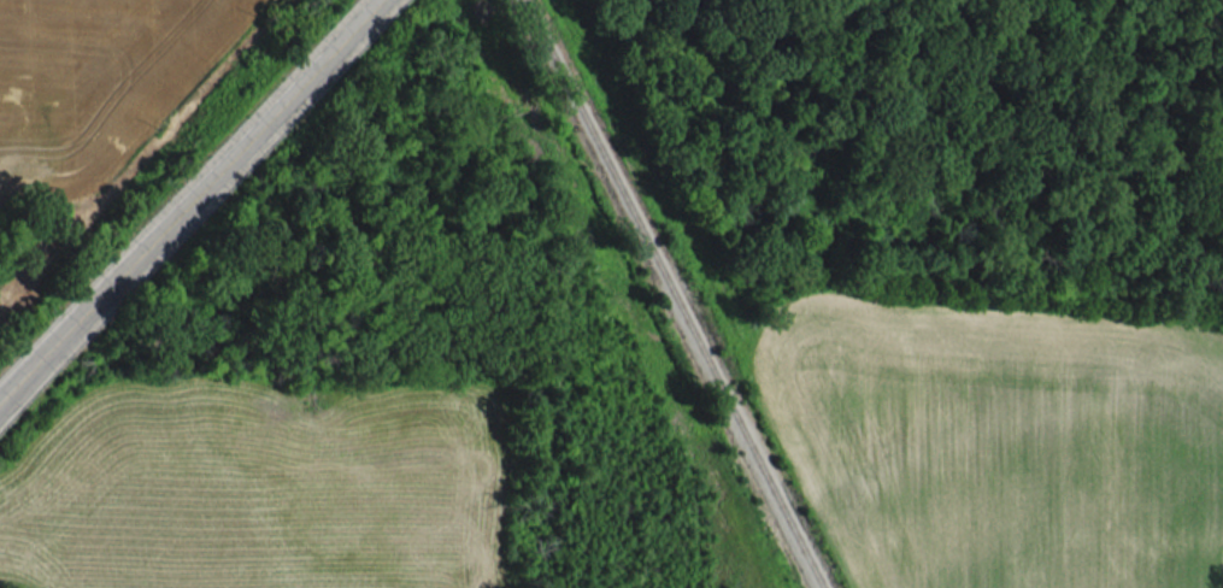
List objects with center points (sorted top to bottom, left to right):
road: (186, 199)
railway: (674, 294)

